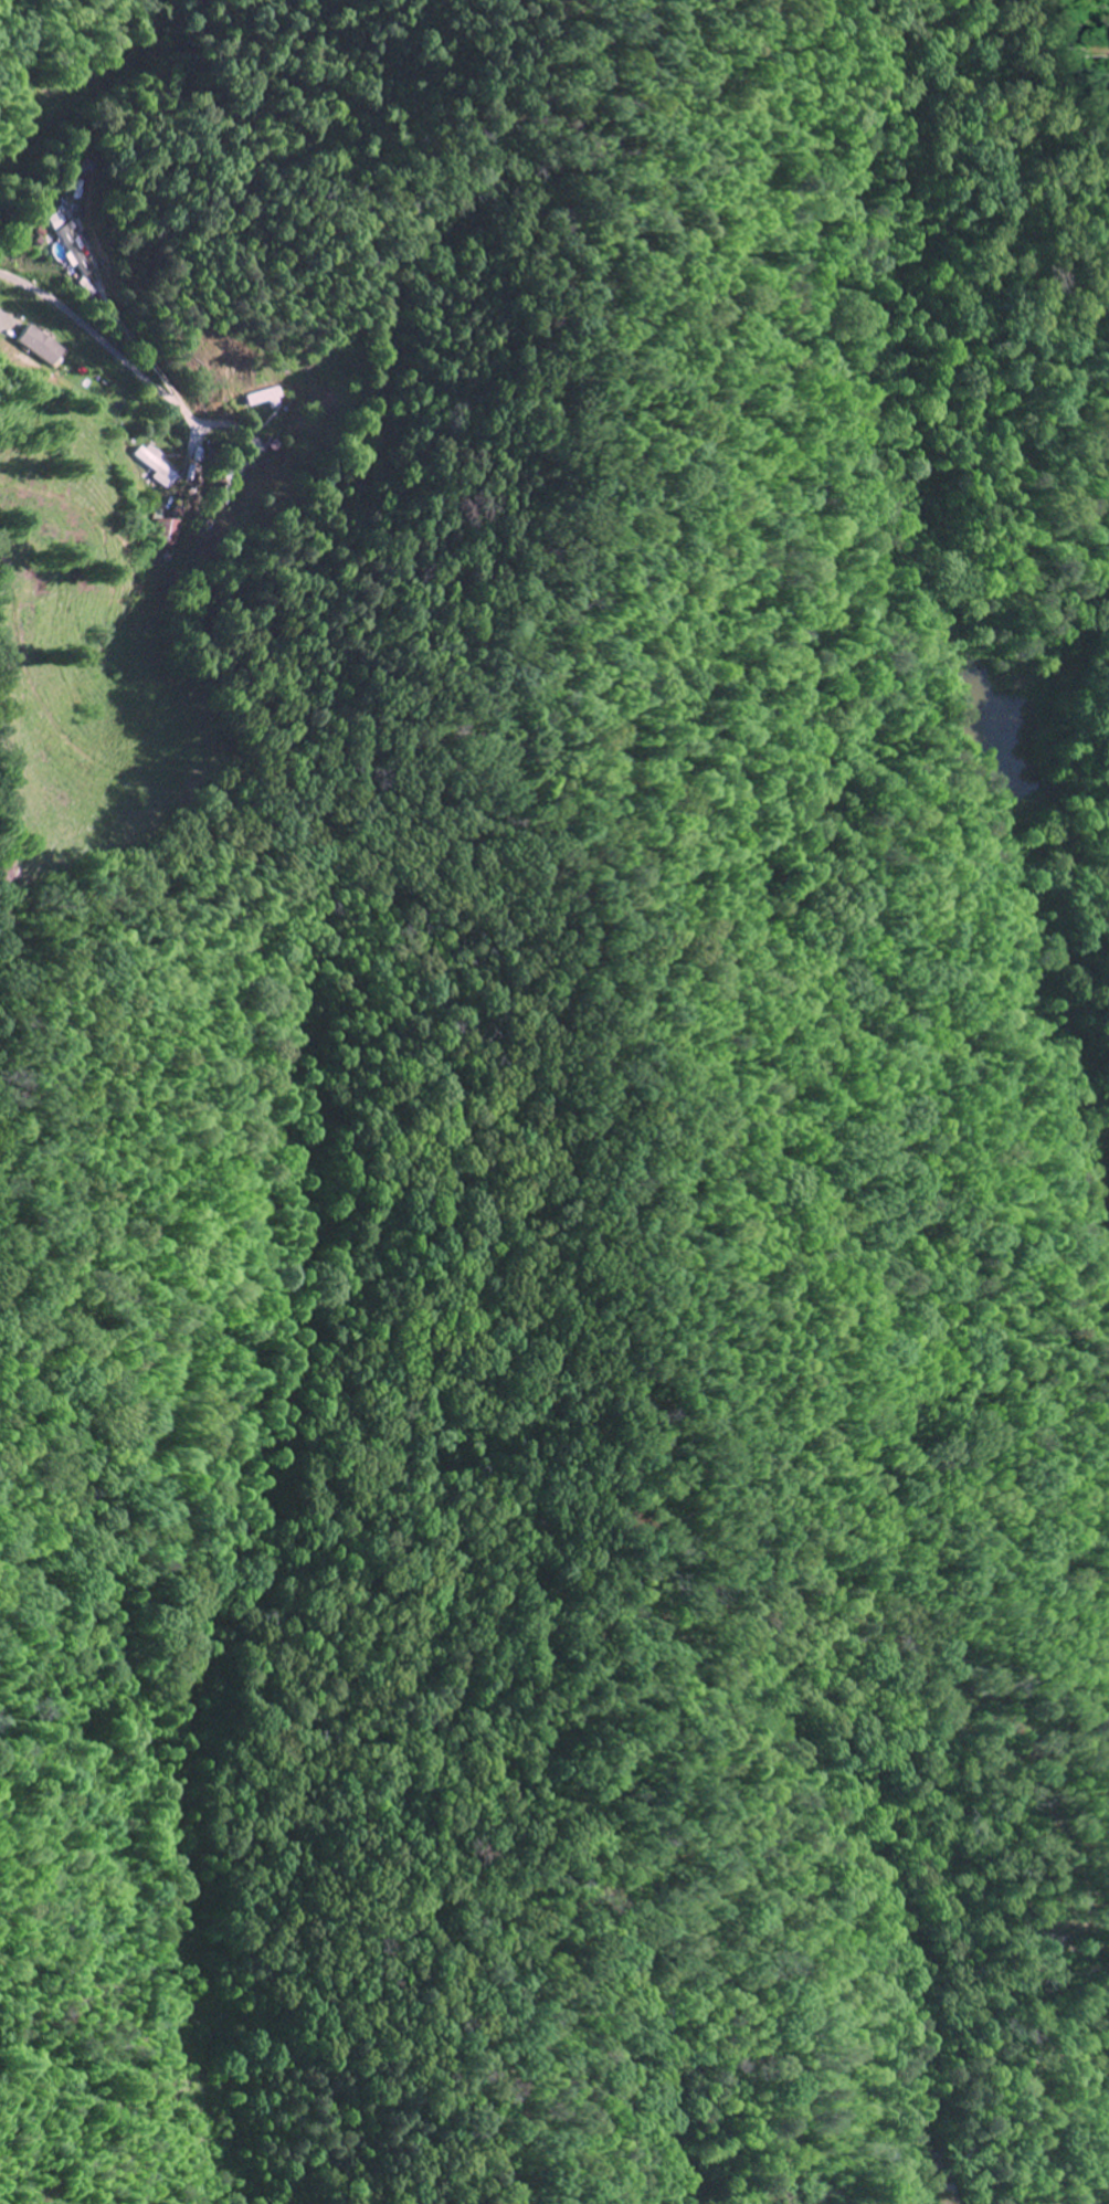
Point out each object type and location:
building: (54, 221)
building: (76, 253)
road: (97, 335)
building: (42, 345)
building: (274, 398)
building: (157, 465)
building: (167, 532)

